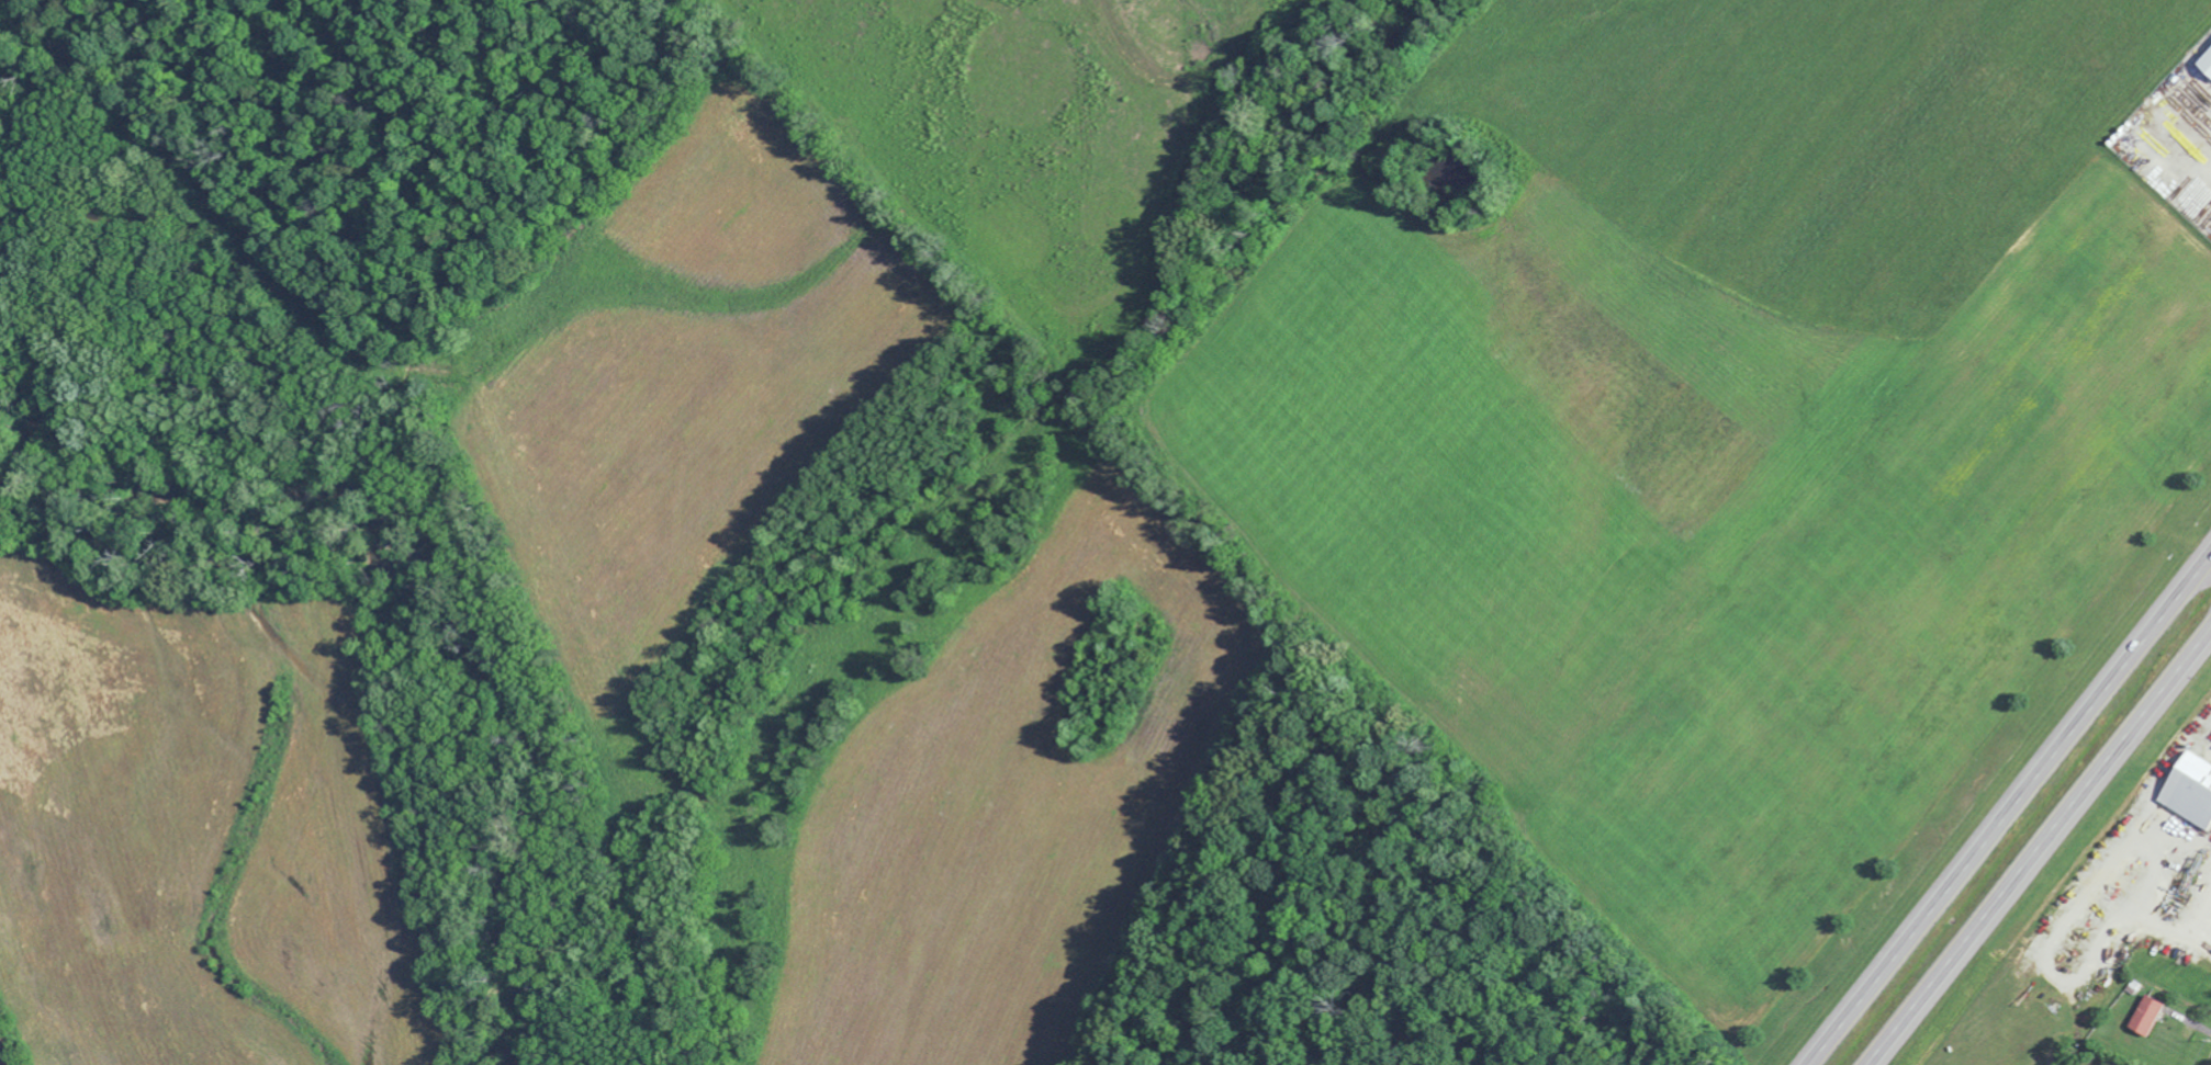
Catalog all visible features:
building: (2204, 61)
road: (2206, 564)
building: (2188, 790)
road: (2007, 805)
road: (2041, 849)
building: (2144, 1016)
building: (2103, 1064)

